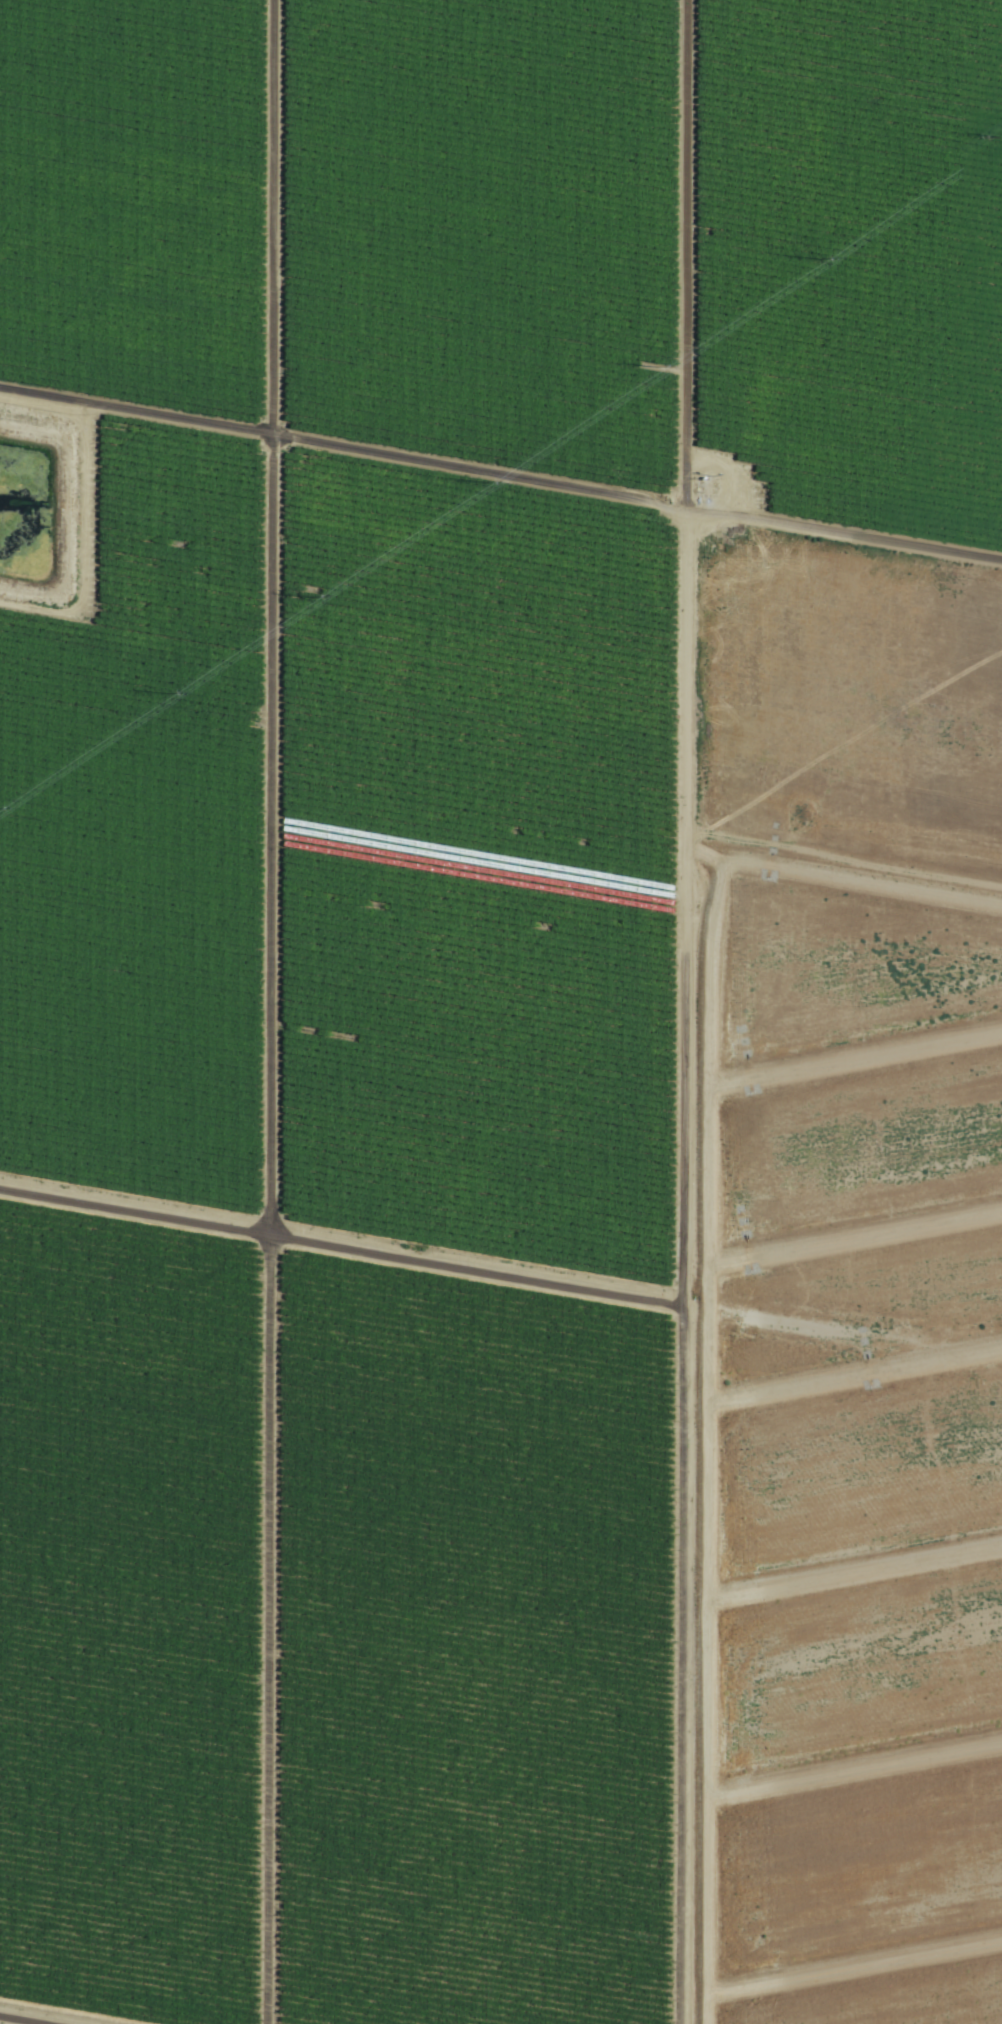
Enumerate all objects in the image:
road: (699, 666)
crop: (501, 1012)
road: (501, 1299)

